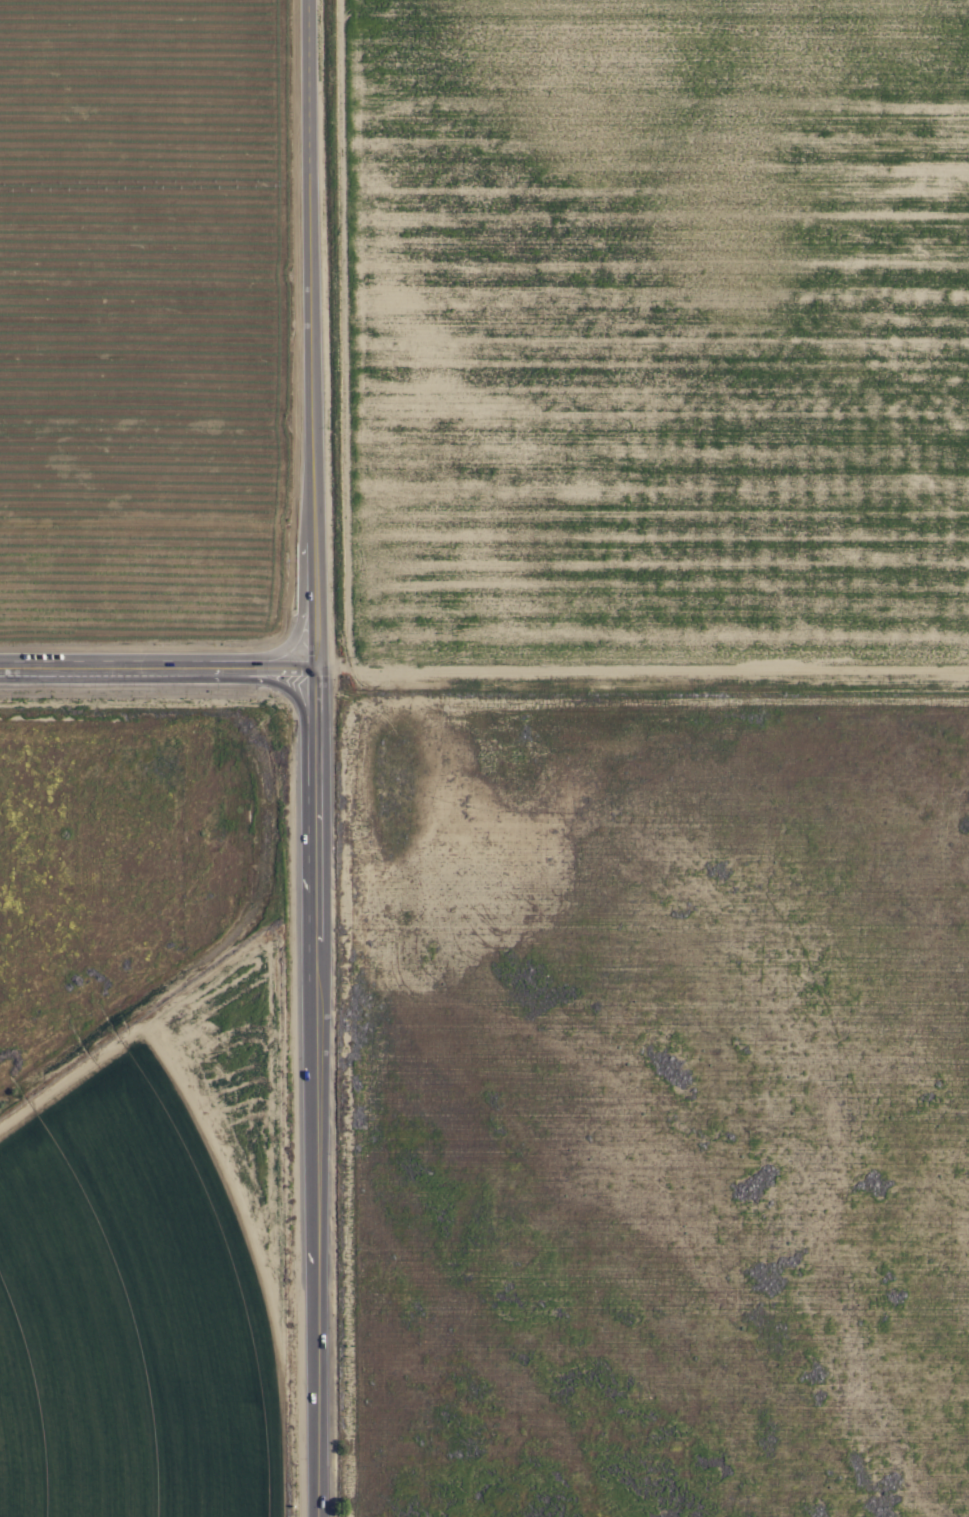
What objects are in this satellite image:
crop: (150, 313)
road: (311, 327)
road: (155, 655)
road: (314, 1086)
crop: (536, 1143)

